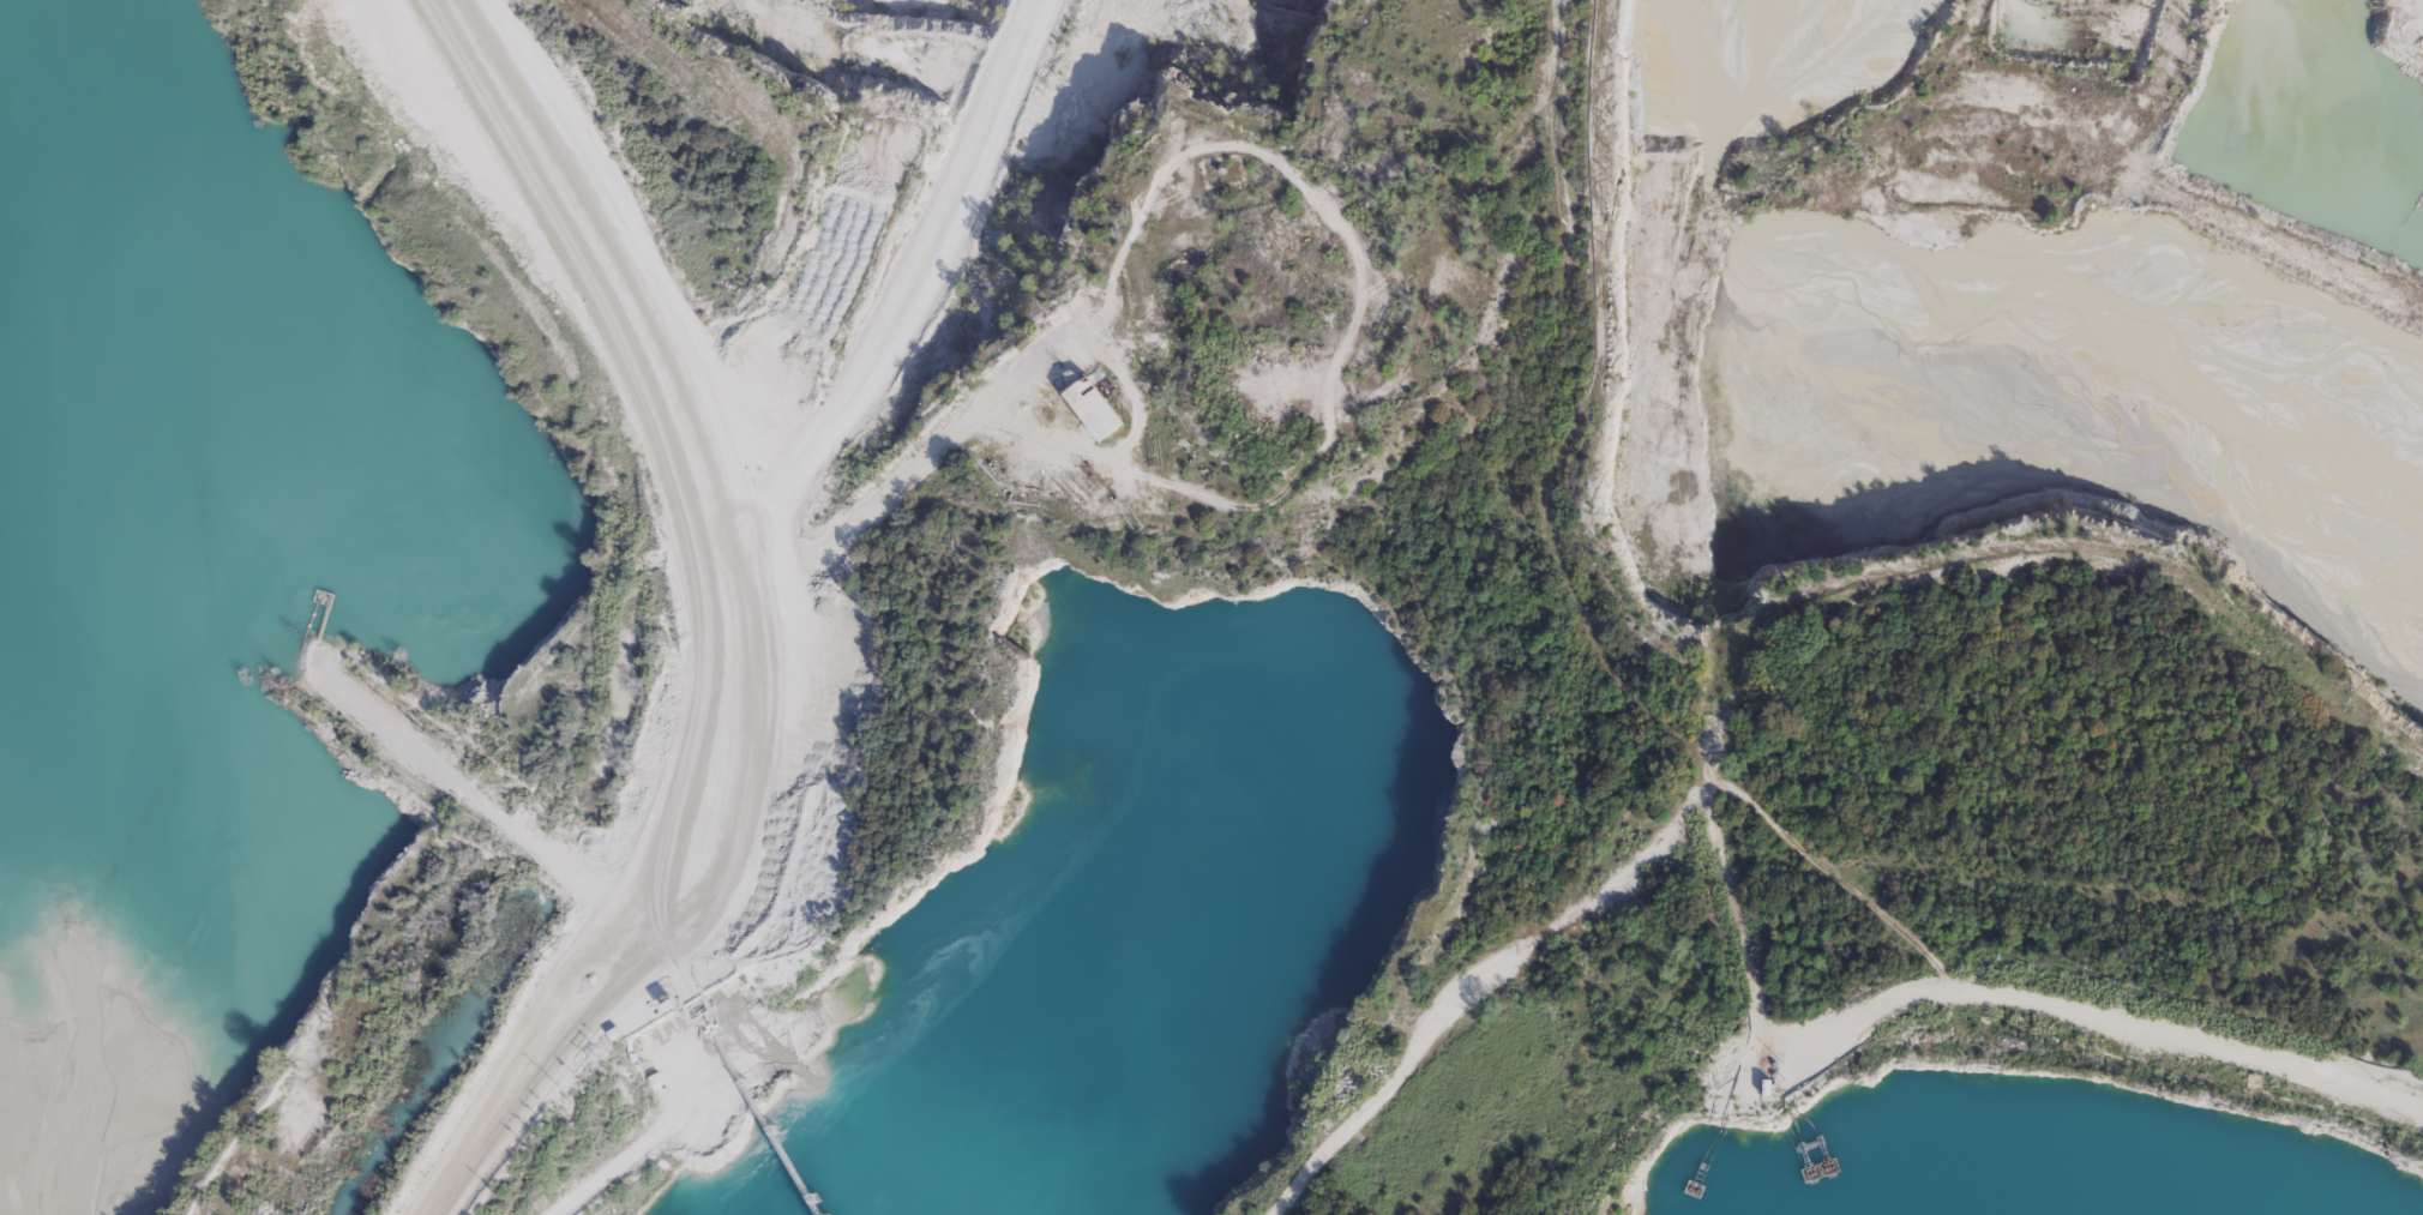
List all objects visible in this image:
quarry: (1111, 228)
quarry: (2022, 296)
building: (1102, 408)
road: (741, 639)

